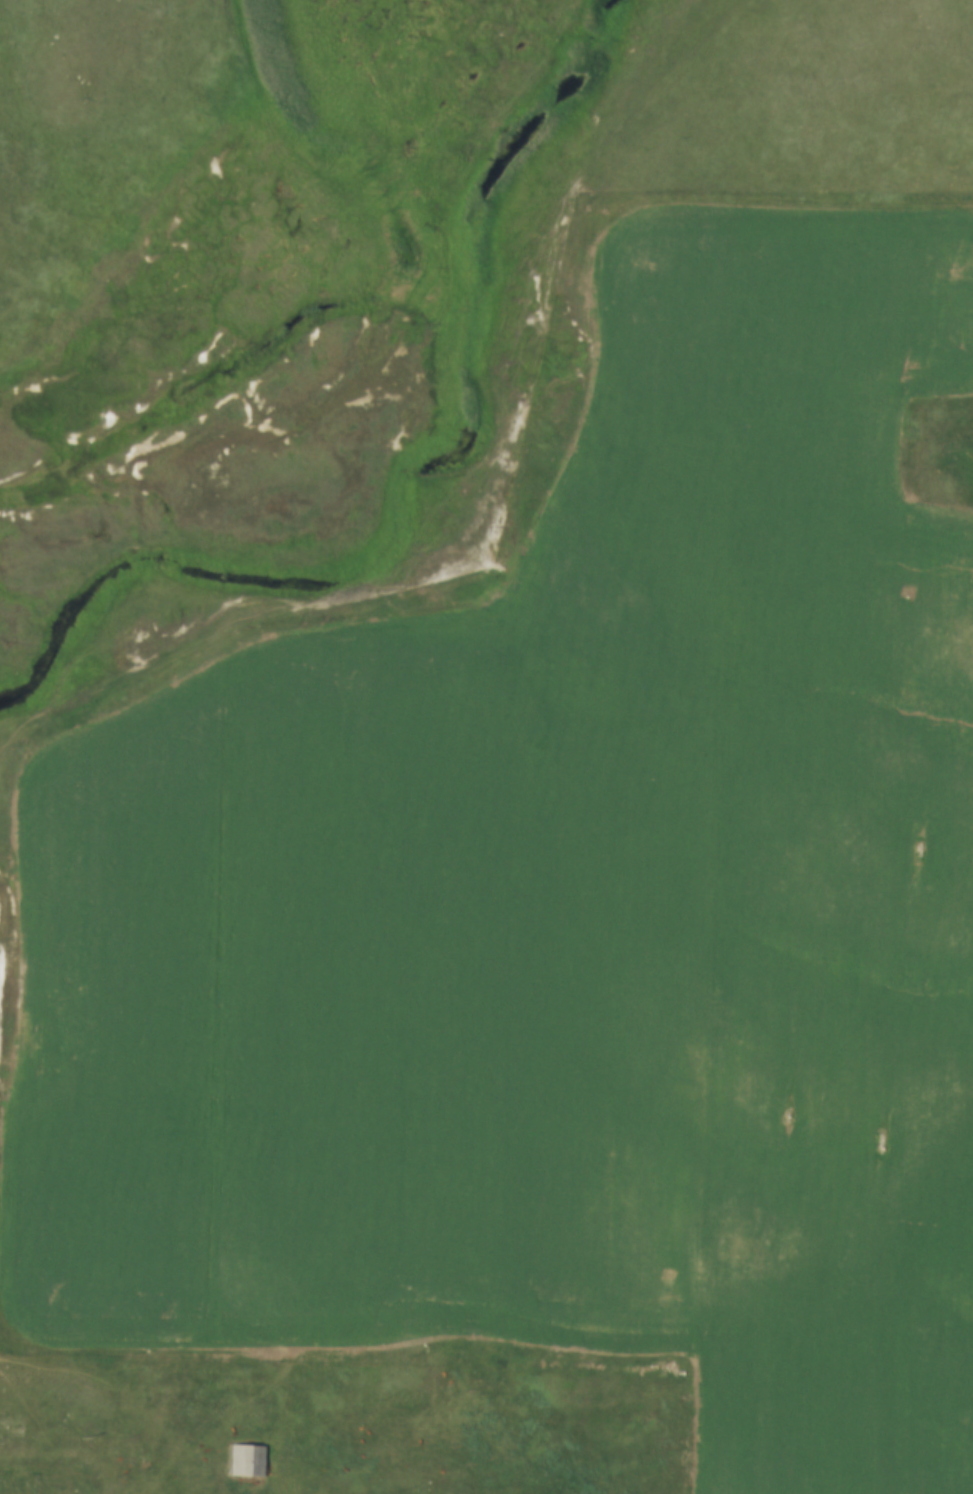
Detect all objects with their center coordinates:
building: (241, 1460)

